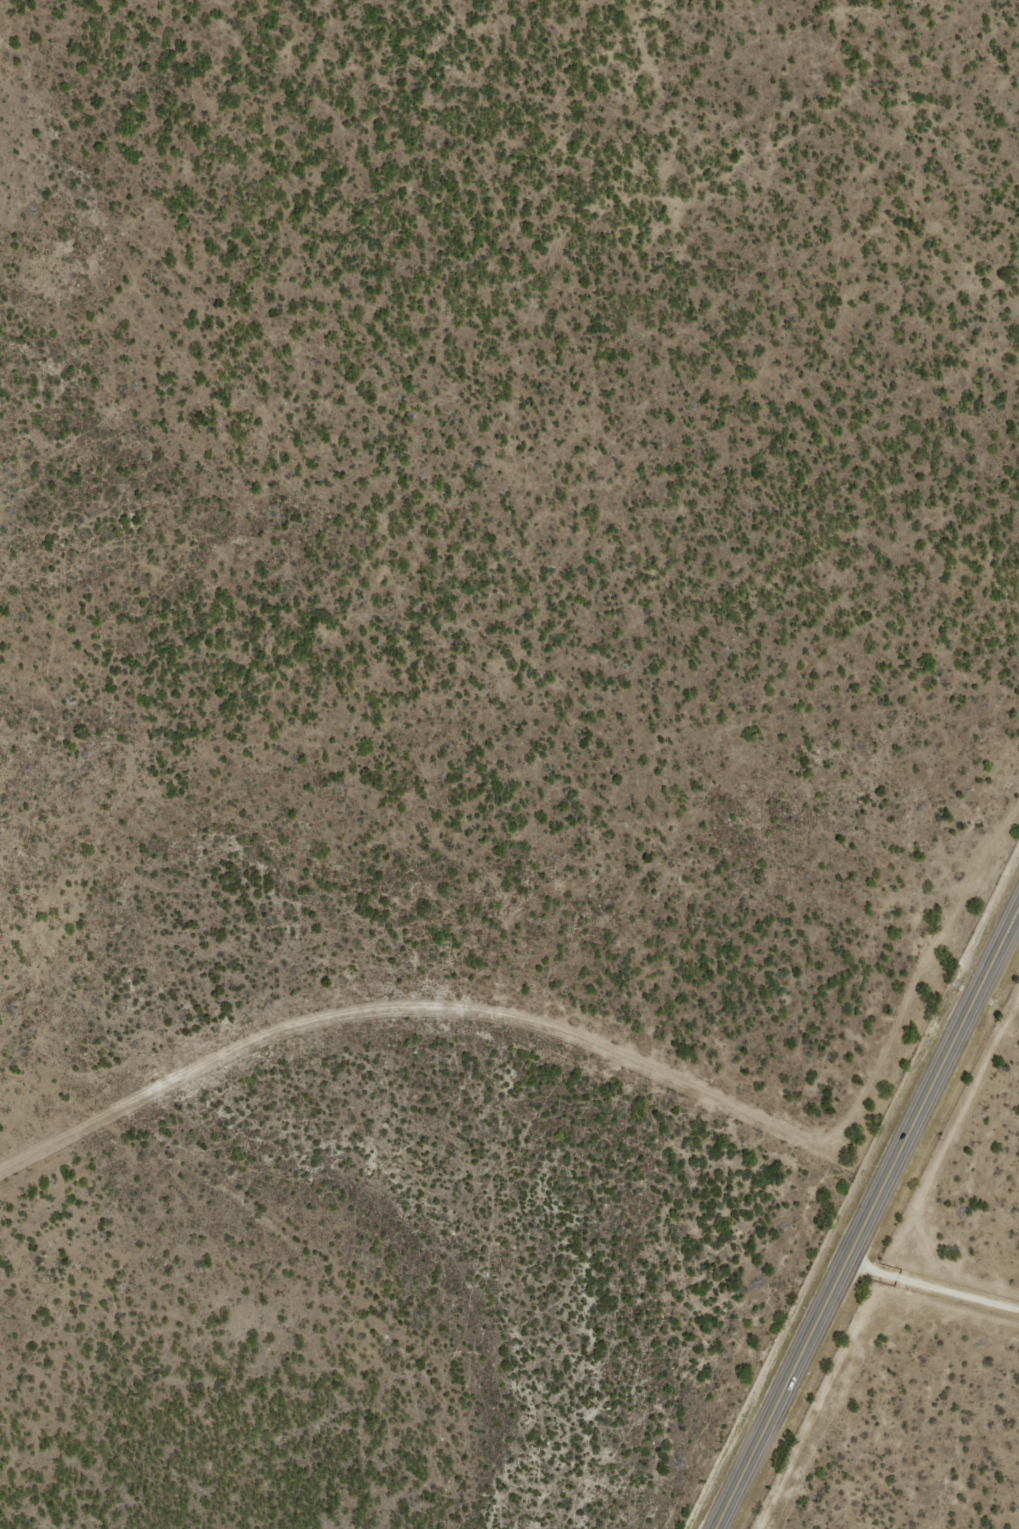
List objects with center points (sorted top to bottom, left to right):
road: (871, 1227)

